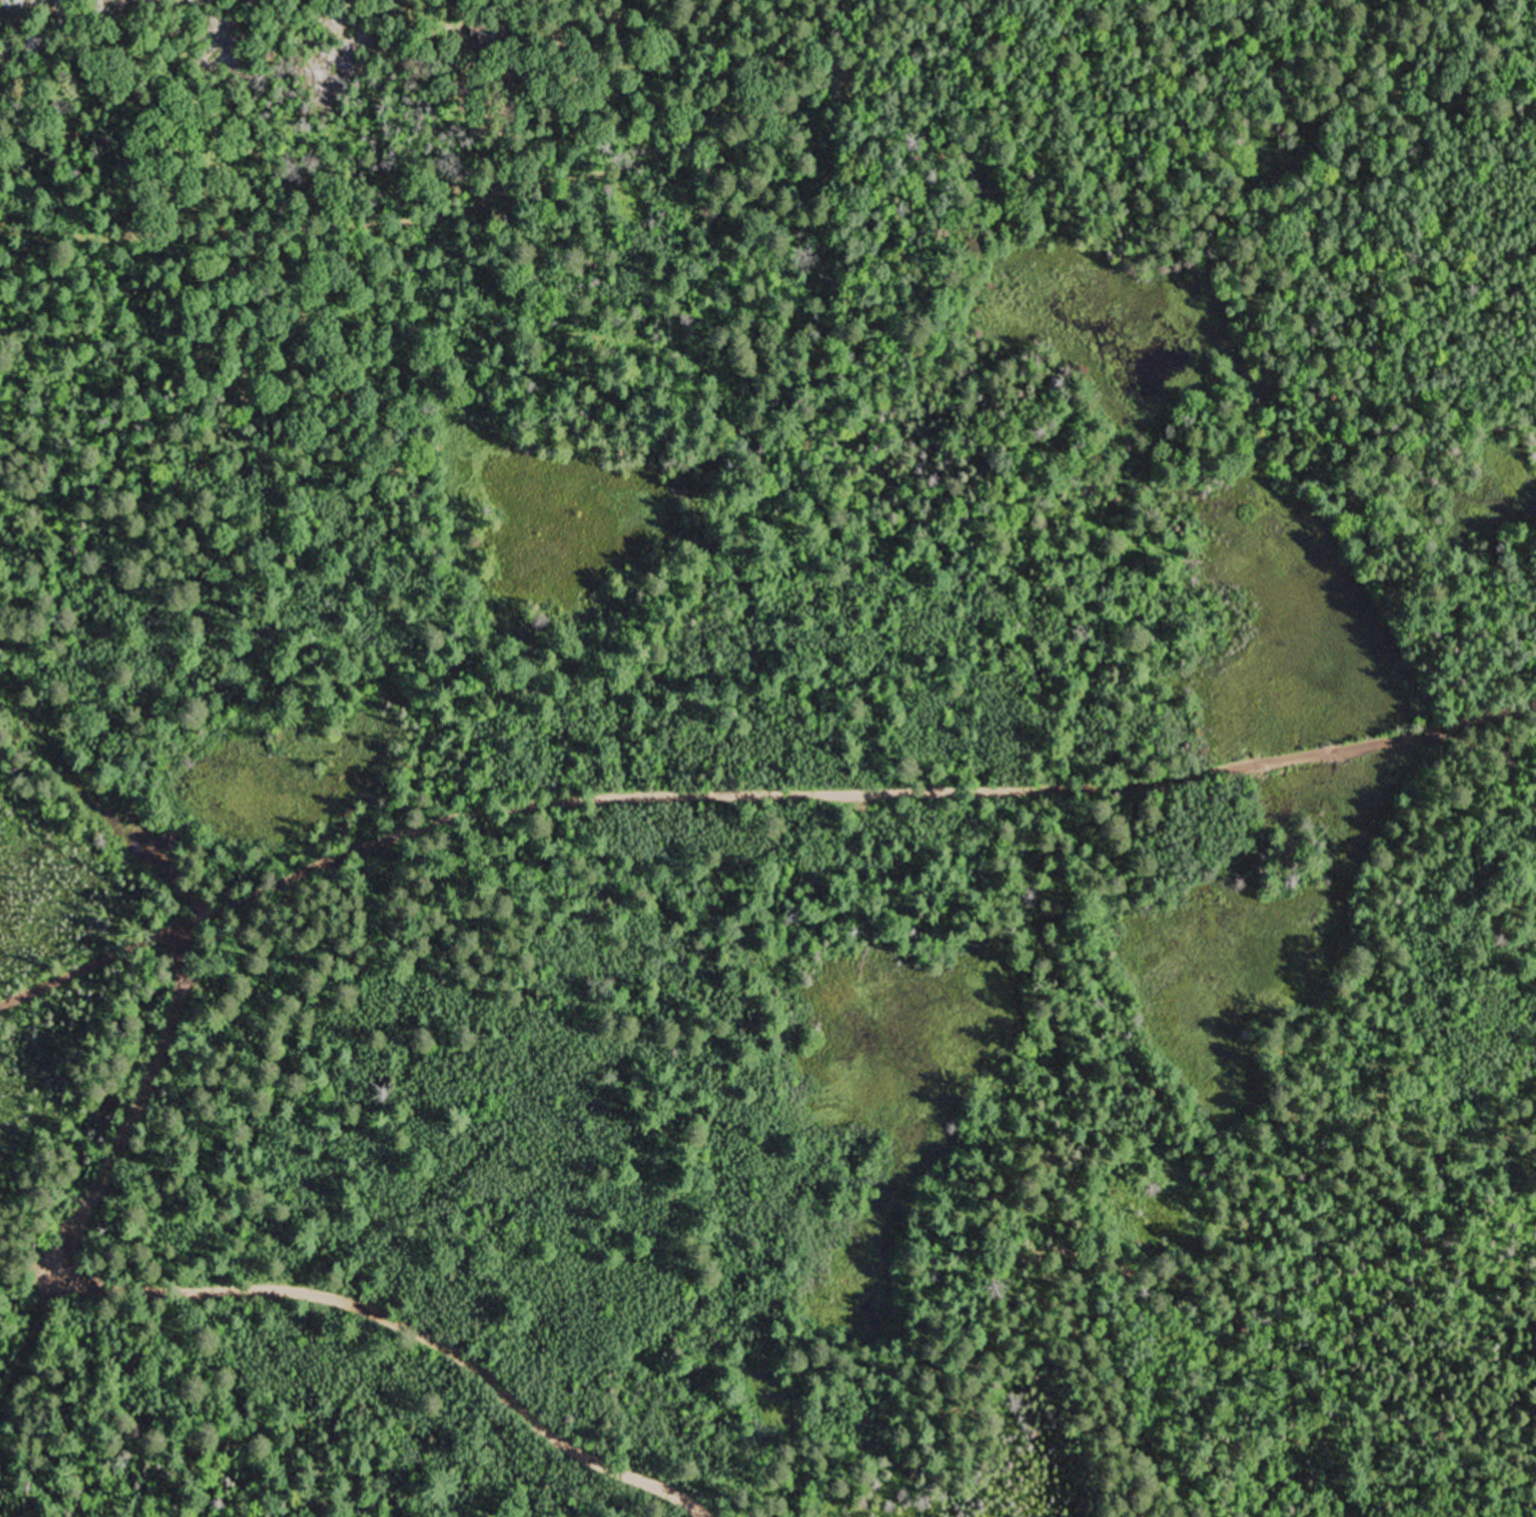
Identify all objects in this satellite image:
road: (417, 221)
road: (751, 795)
road: (113, 1172)
road: (409, 1328)

